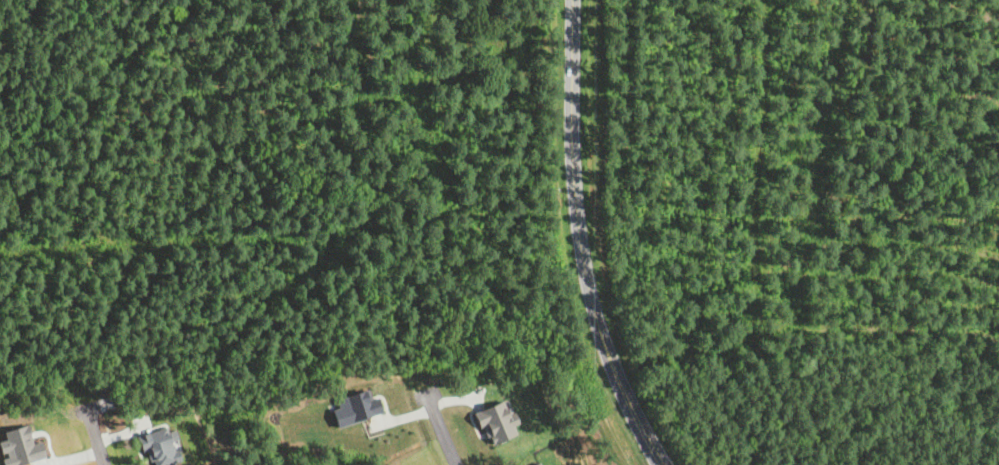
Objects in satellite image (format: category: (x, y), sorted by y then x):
road: (578, 241)
road: (440, 431)
road: (94, 435)

